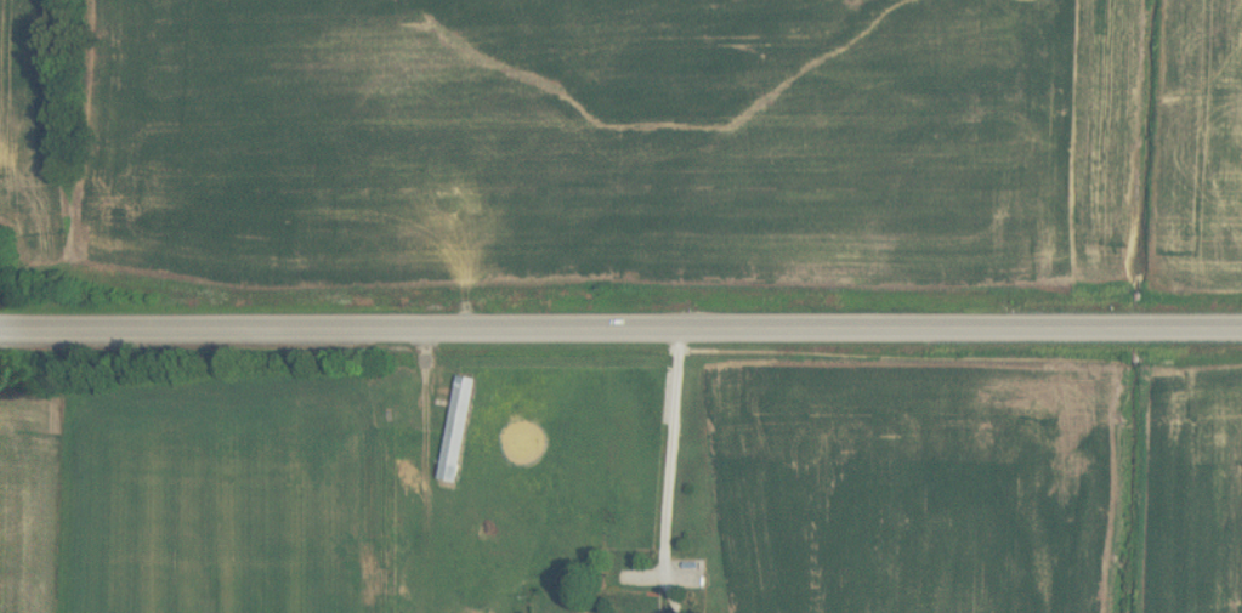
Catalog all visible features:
road: (620, 330)
building: (455, 428)
road: (422, 452)
road: (668, 460)
building: (728, 486)
building: (376, 574)

